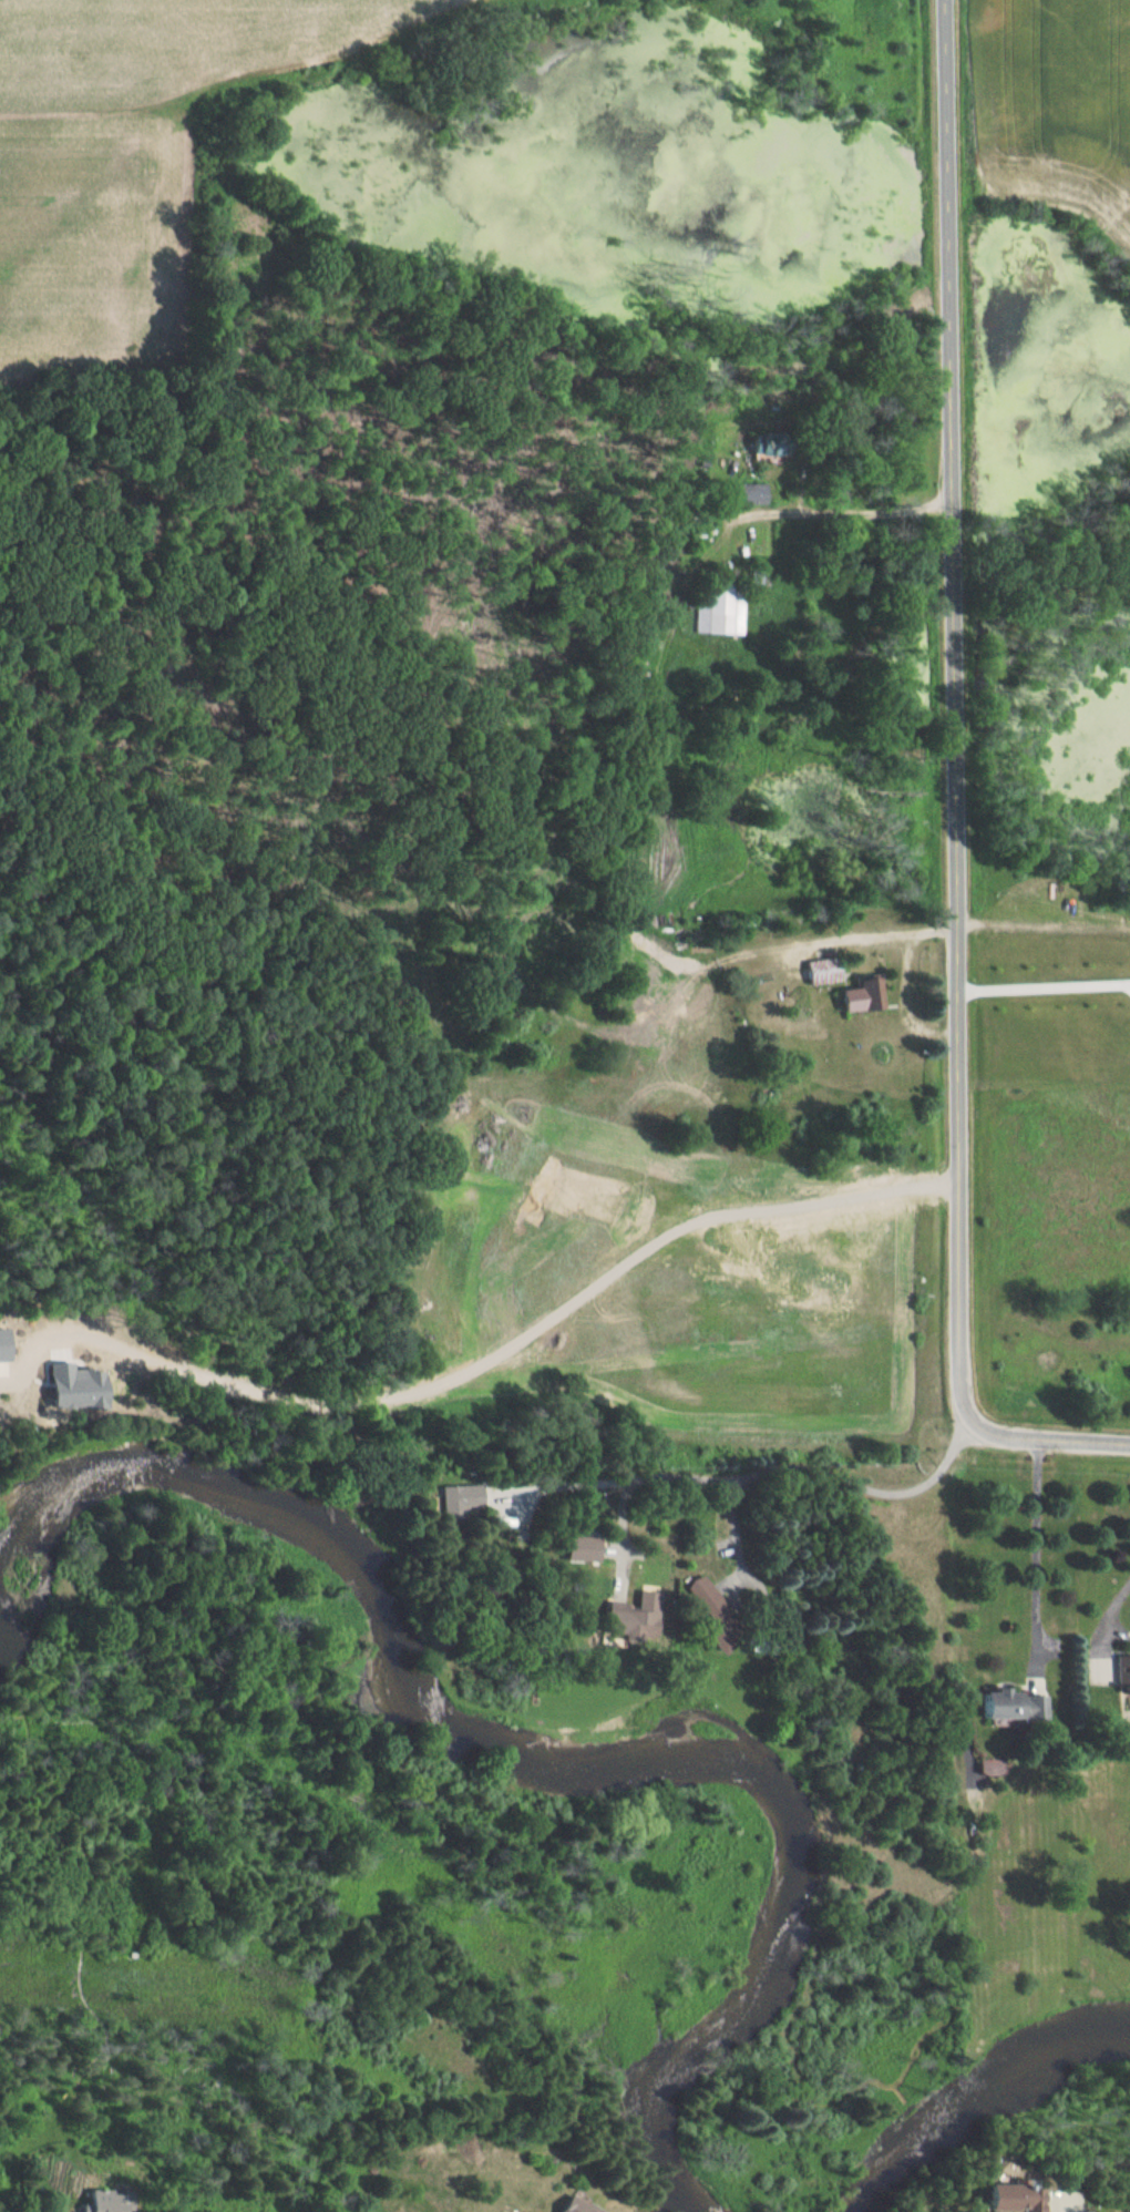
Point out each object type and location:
building: (762, 444)
building: (749, 494)
road: (845, 505)
building: (718, 608)
road: (955, 792)
building: (819, 970)
building: (859, 995)
road: (807, 1469)
road: (649, 1474)
road: (1037, 1553)
building: (707, 1608)
road: (1116, 1609)
building: (624, 1622)
building: (1120, 1675)
building: (1000, 1704)
river: (556, 1760)
river: (976, 2100)
building: (997, 2198)
building: (94, 2201)
building: (562, 2206)

